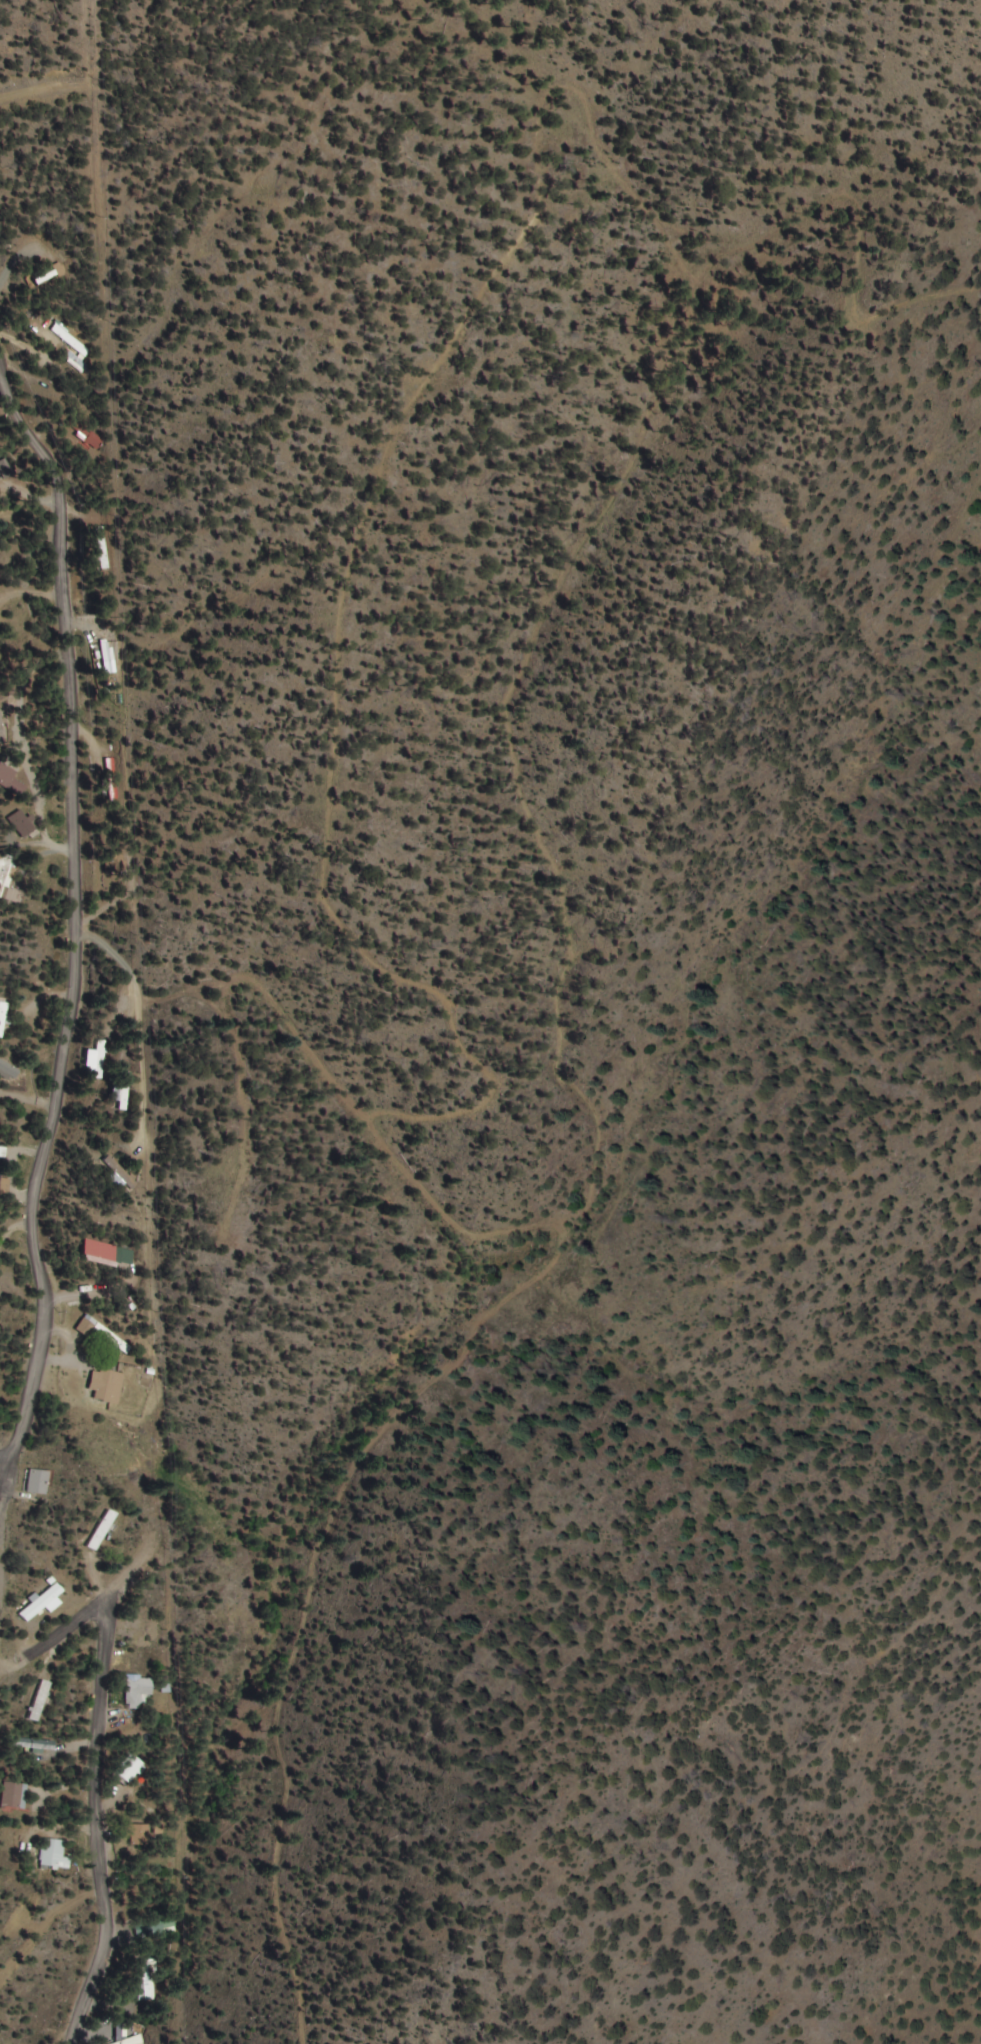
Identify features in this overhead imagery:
building: (71, 345)
building: (87, 435)
building: (6, 469)
building: (101, 549)
building: (8, 779)
building: (21, 823)
building: (9, 878)
road: (76, 914)
building: (4, 1019)
building: (97, 1060)
building: (8, 1070)
building: (120, 1097)
building: (1, 1175)
building: (99, 1251)
building: (103, 1333)
building: (108, 1386)
road: (4, 1460)
building: (36, 1482)
road: (4, 1487)
building: (102, 1532)
road: (121, 1574)
building: (41, 1604)
building: (136, 1691)
building: (38, 1701)
building: (34, 1744)
road: (96, 1764)
building: (129, 1770)
building: (12, 1795)
building: (138, 1836)
building: (53, 1855)
building: (147, 1980)
building: (126, 2039)

